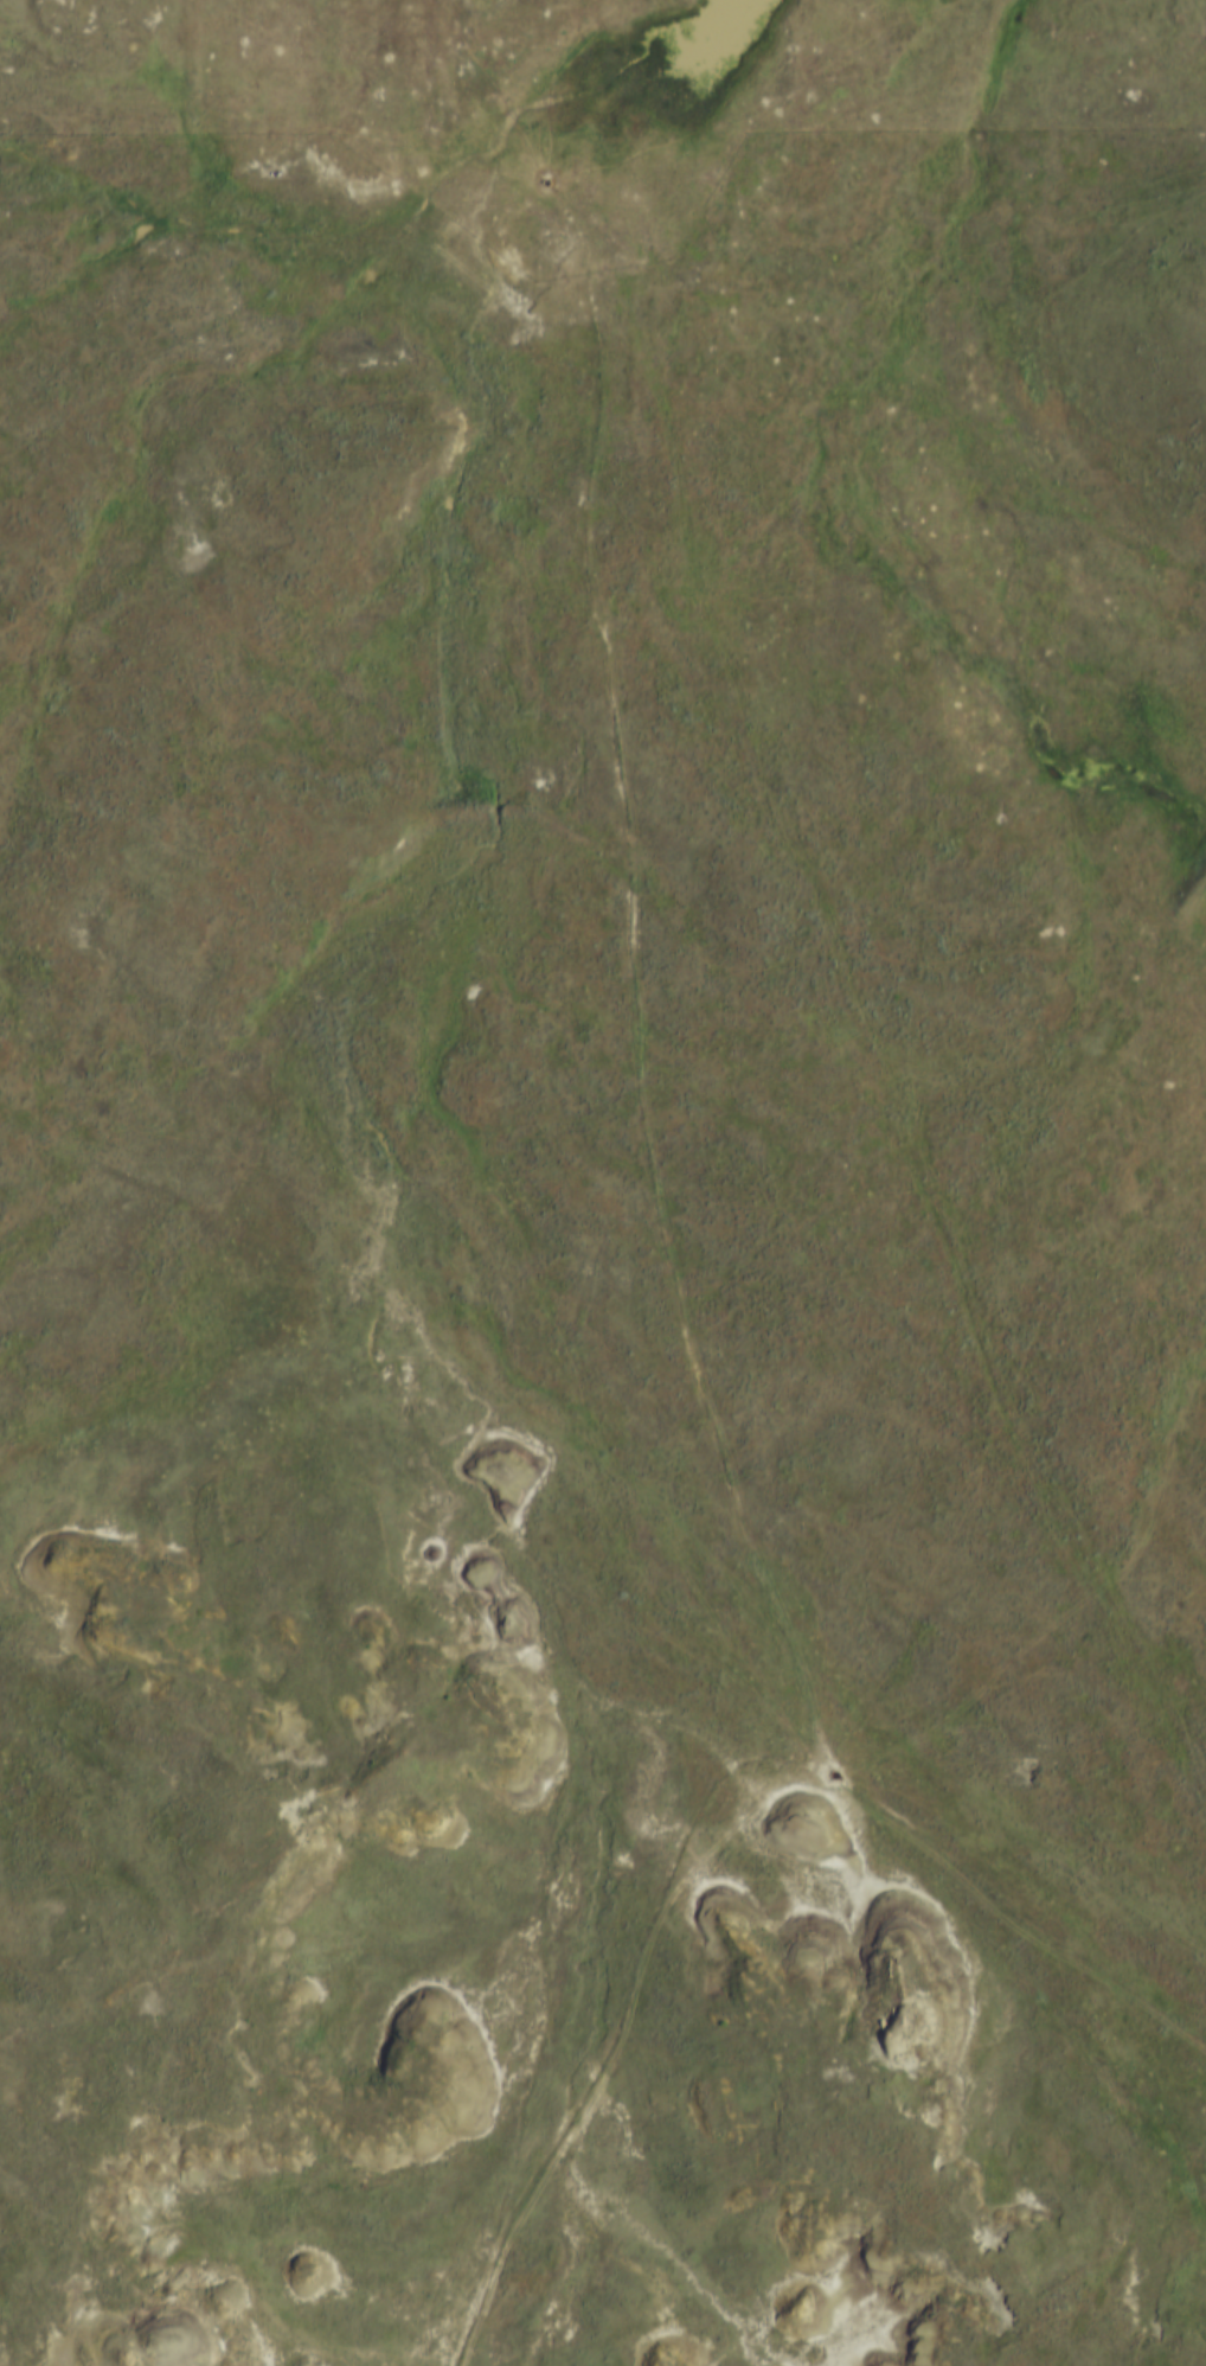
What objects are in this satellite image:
road: (508, 1246)

